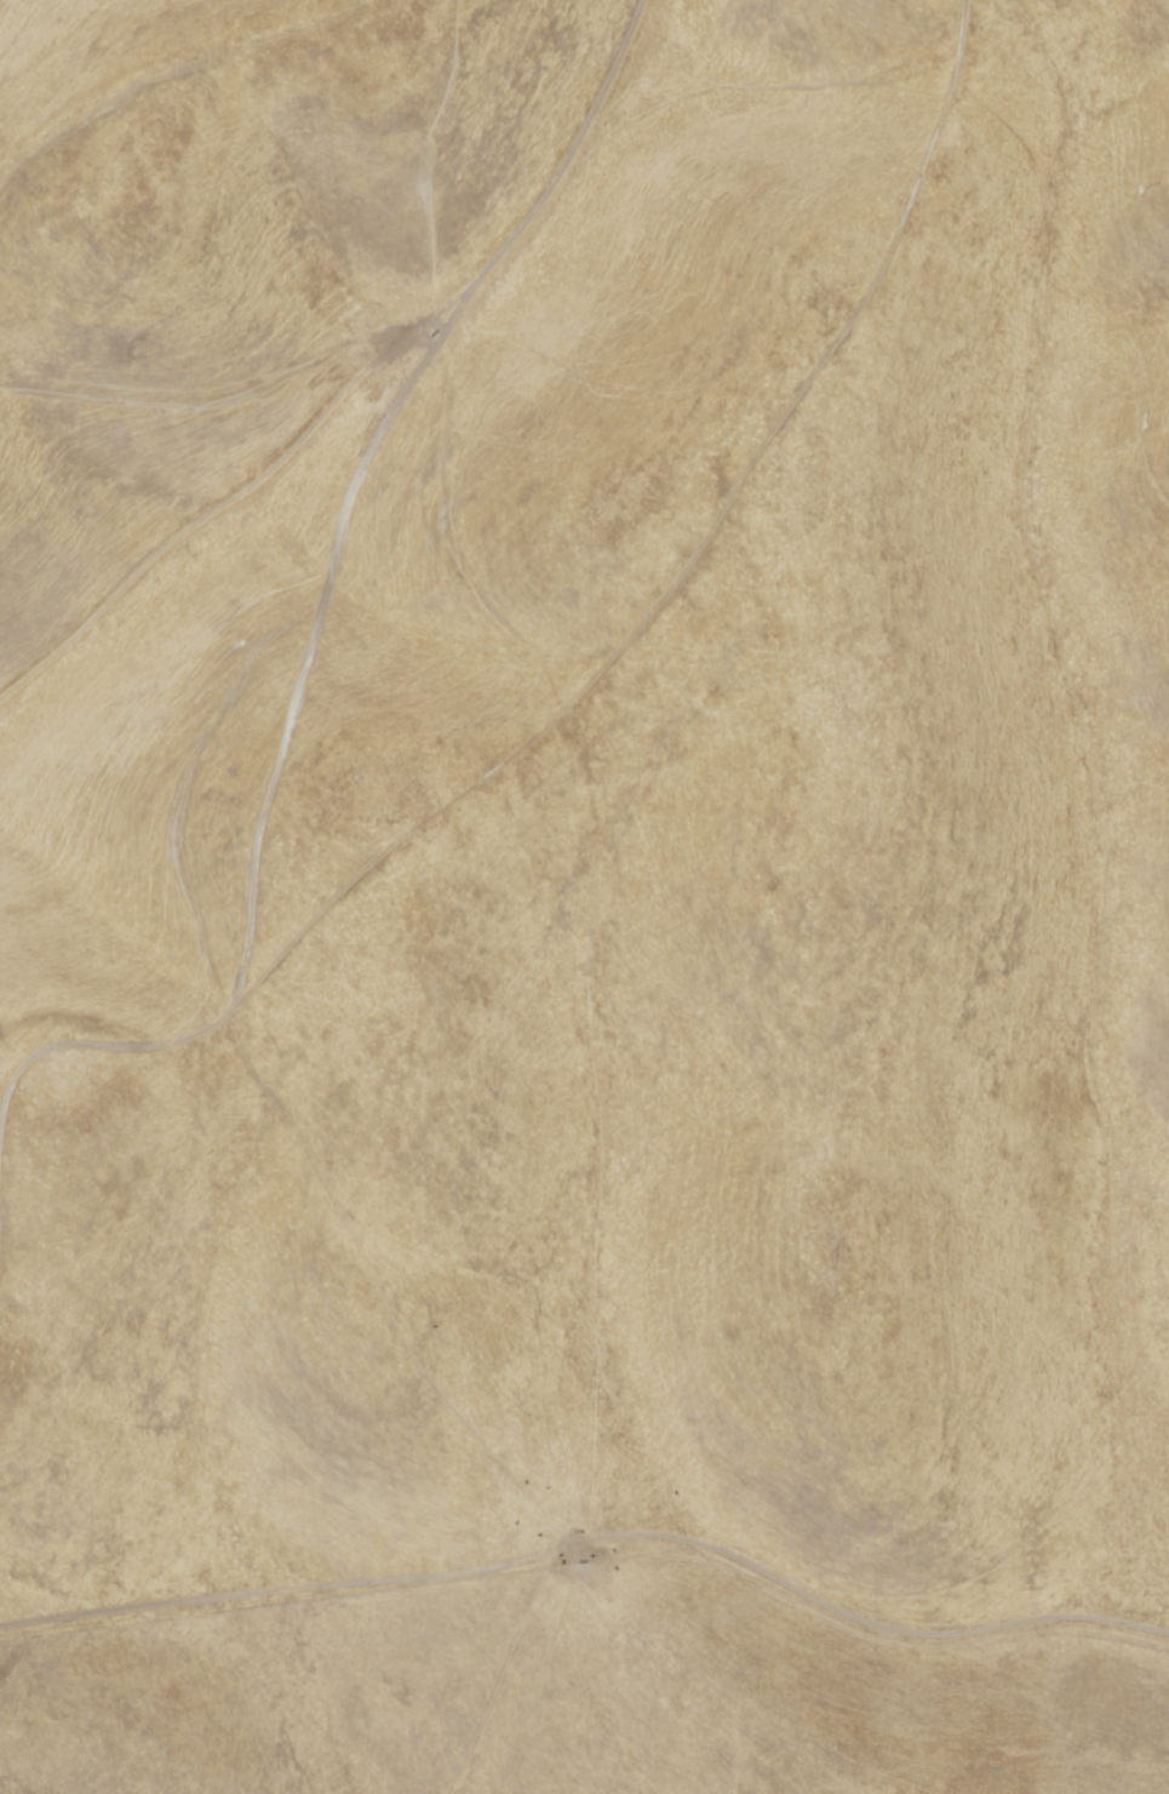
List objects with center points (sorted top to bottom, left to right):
road: (369, 399)

